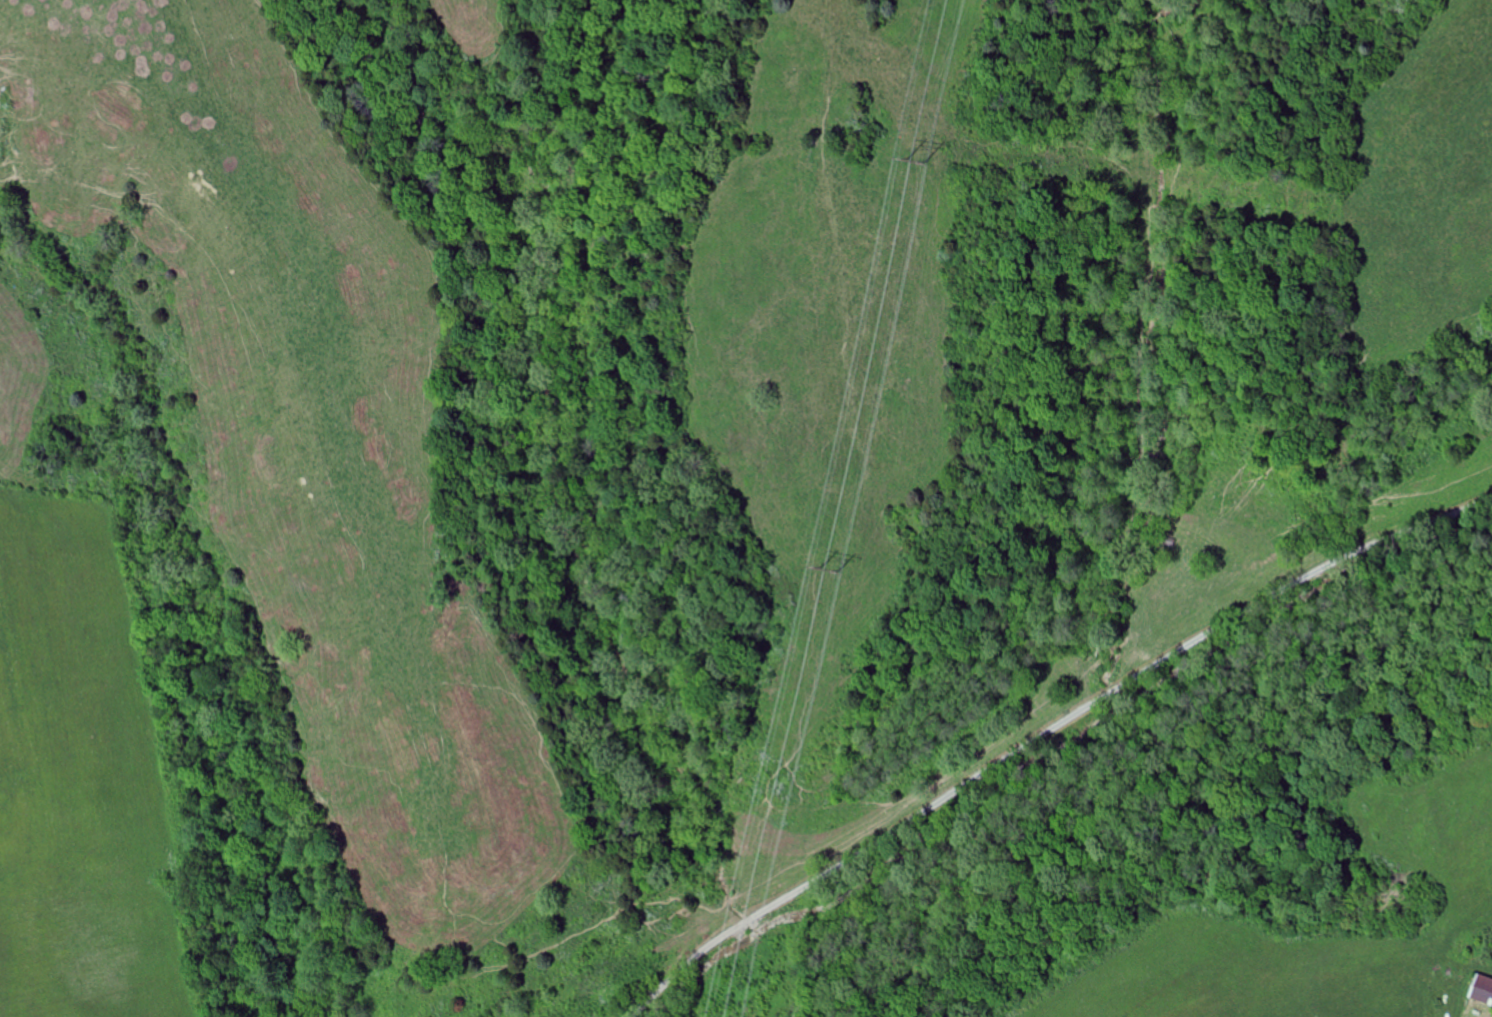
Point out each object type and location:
power tower: (917, 158)
power tower: (827, 570)
road: (1048, 733)
building: (1483, 989)

